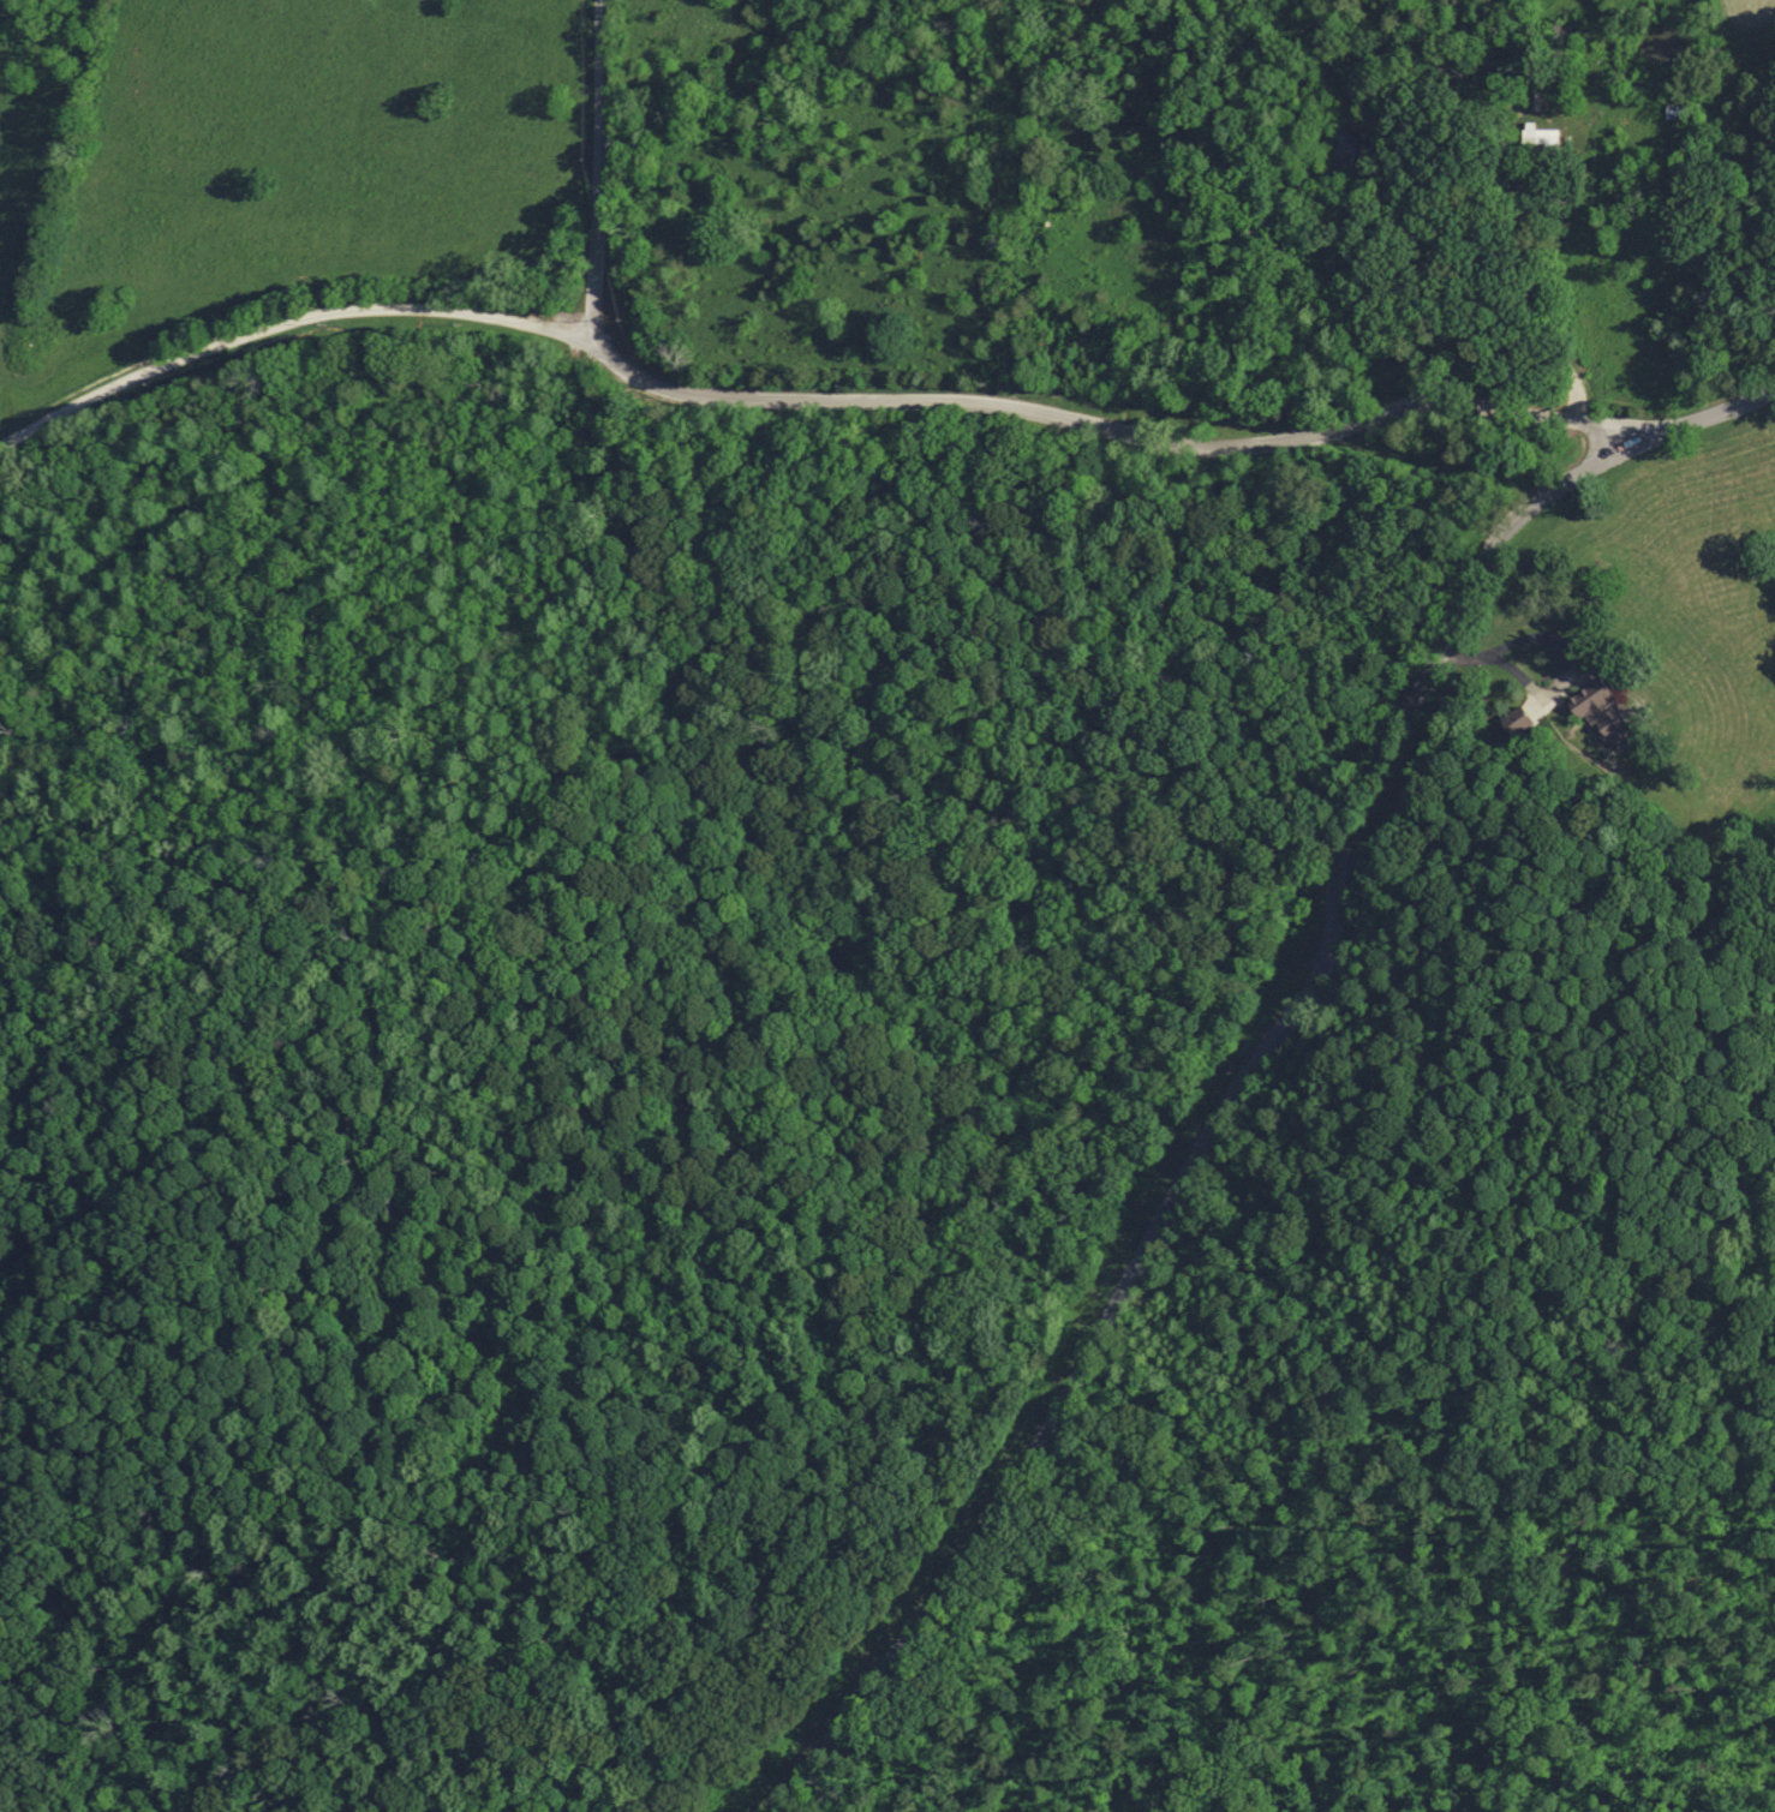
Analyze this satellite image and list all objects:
building: (1673, 109)
building: (1537, 137)
building: (1345, 149)
road: (600, 174)
road: (808, 400)
road: (1592, 445)
building: (1598, 711)
road: (1263, 1060)

